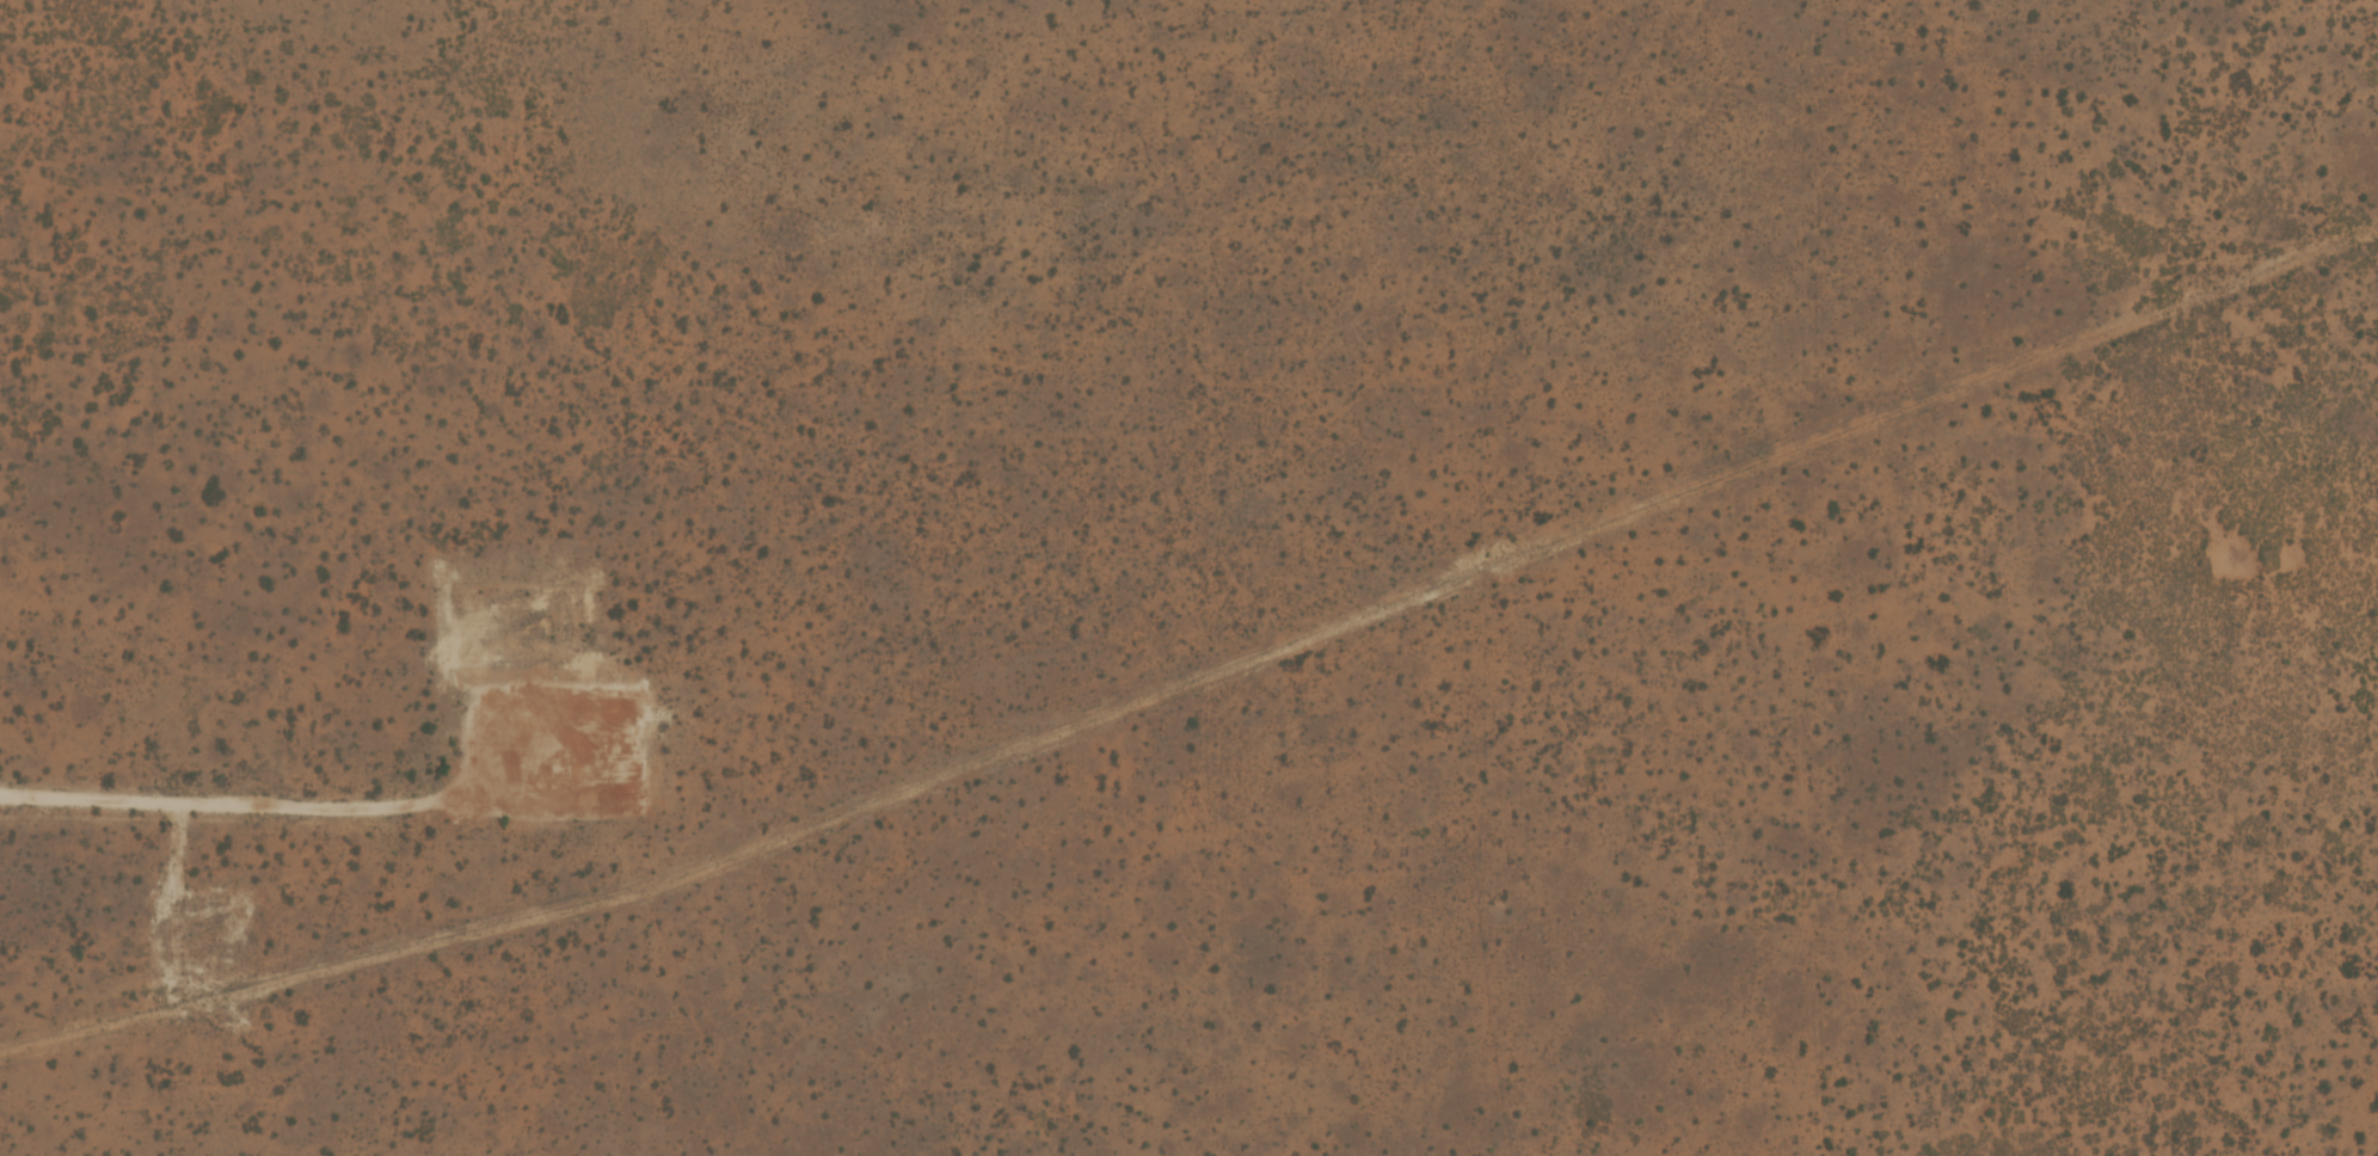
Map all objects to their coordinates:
road: (262, 793)

